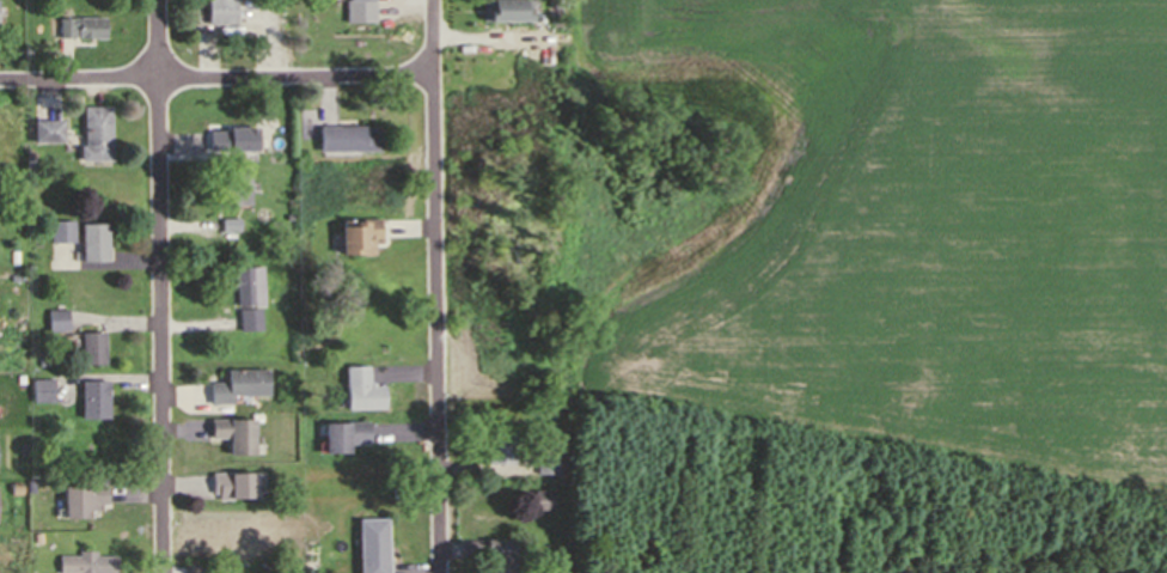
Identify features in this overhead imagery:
building: (507, 8)
building: (219, 11)
building: (361, 11)
building: (80, 26)
road: (214, 78)
building: (45, 129)
building: (93, 133)
building: (231, 138)
building: (346, 138)
building: (29, 163)
building: (232, 184)
building: (227, 224)
crop: (880, 224)
building: (59, 230)
building: (362, 231)
building: (91, 240)
building: (11, 256)
building: (12, 276)
road: (159, 286)
road: (433, 286)
building: (248, 295)
building: (55, 318)
building: (359, 334)
building: (90, 347)
building: (42, 361)
building: (236, 384)
building: (41, 389)
building: (359, 389)
building: (96, 395)
building: (236, 432)
building: (341, 434)
building: (496, 449)
building: (543, 459)
building: (236, 481)
building: (86, 495)
building: (540, 499)
building: (36, 536)
building: (371, 544)
building: (493, 553)
building: (86, 562)

